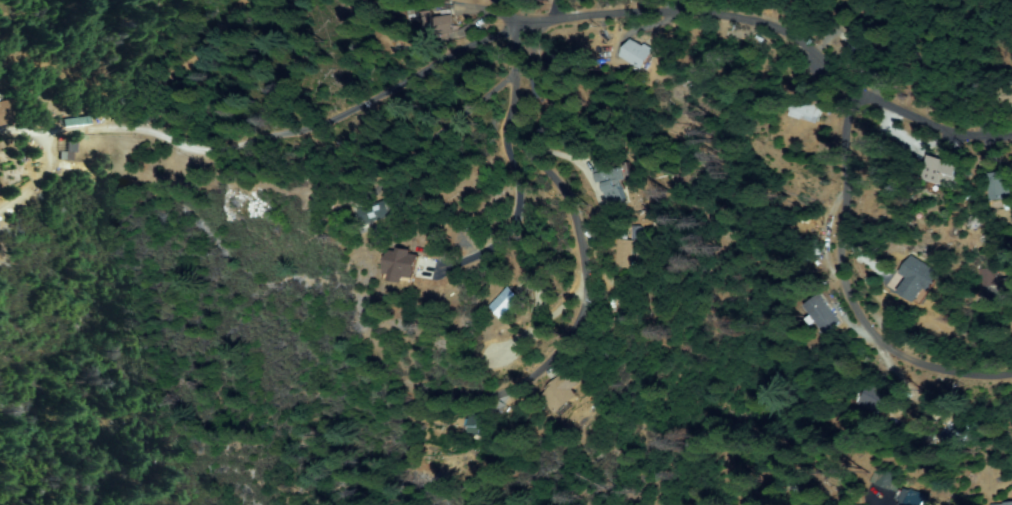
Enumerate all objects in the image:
building: (438, 20)
road: (596, 20)
building: (861, 50)
building: (637, 54)
building: (562, 66)
road: (860, 86)
building: (535, 88)
building: (1004, 94)
building: (965, 101)
building: (807, 109)
building: (4, 113)
building: (79, 122)
building: (933, 144)
building: (67, 149)
building: (939, 174)
building: (613, 180)
building: (998, 187)
building: (376, 212)
building: (974, 223)
building: (636, 234)
building: (624, 253)
road: (577, 255)
building: (798, 255)
building: (403, 267)
building: (987, 278)
building: (918, 281)
building: (1006, 287)
road: (845, 299)
building: (506, 302)
building: (820, 316)
building: (562, 394)
building: (873, 399)
building: (480, 422)
building: (959, 434)
building: (884, 480)
building: (909, 498)
building: (1001, 503)

